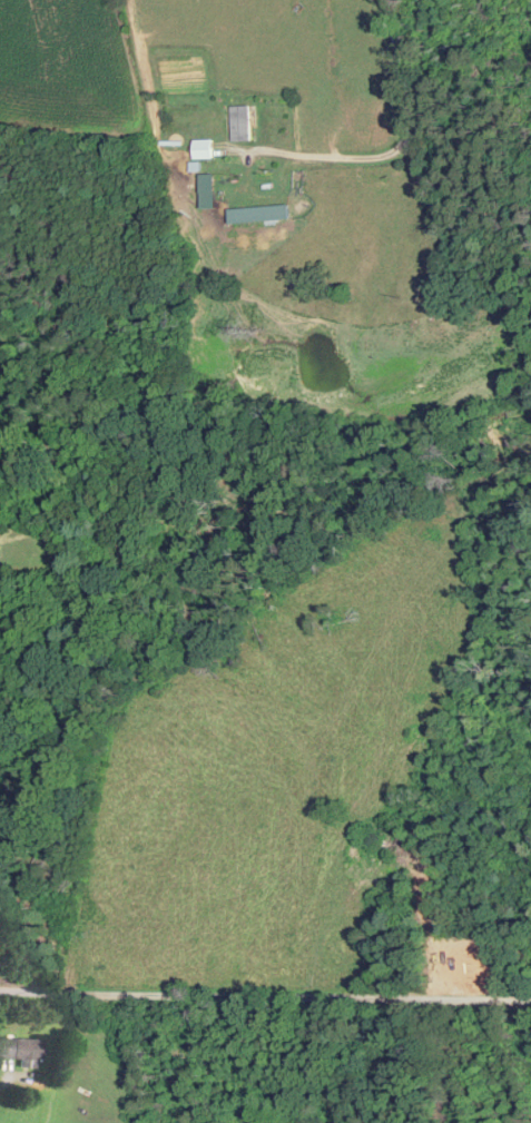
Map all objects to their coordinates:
building: (245, 122)
road: (395, 145)
building: (206, 148)
building: (197, 186)
building: (262, 213)
road: (265, 998)
building: (22, 1052)

